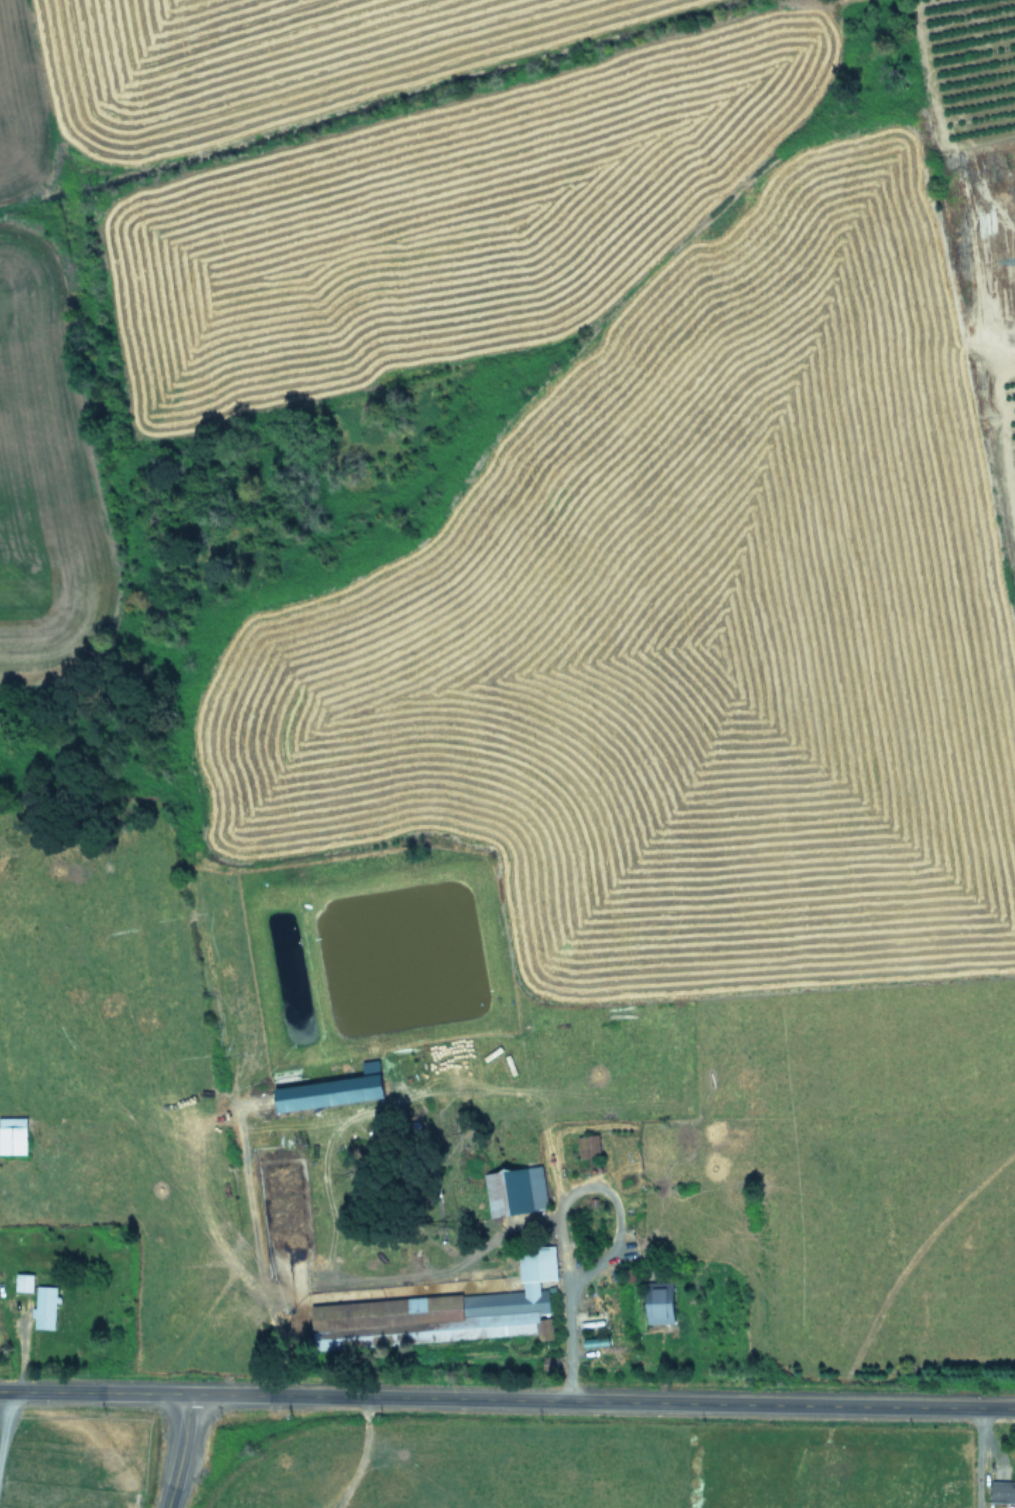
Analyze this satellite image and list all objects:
crop: (502, 696)
building: (329, 1090)
building: (12, 1135)
building: (586, 1145)
building: (514, 1190)
road: (554, 1210)
building: (21, 1282)
building: (656, 1302)
building: (43, 1307)
road: (92, 1392)
road: (539, 1400)
road: (5, 1424)
road: (978, 1458)
crop: (606, 1471)
building: (1002, 1491)

